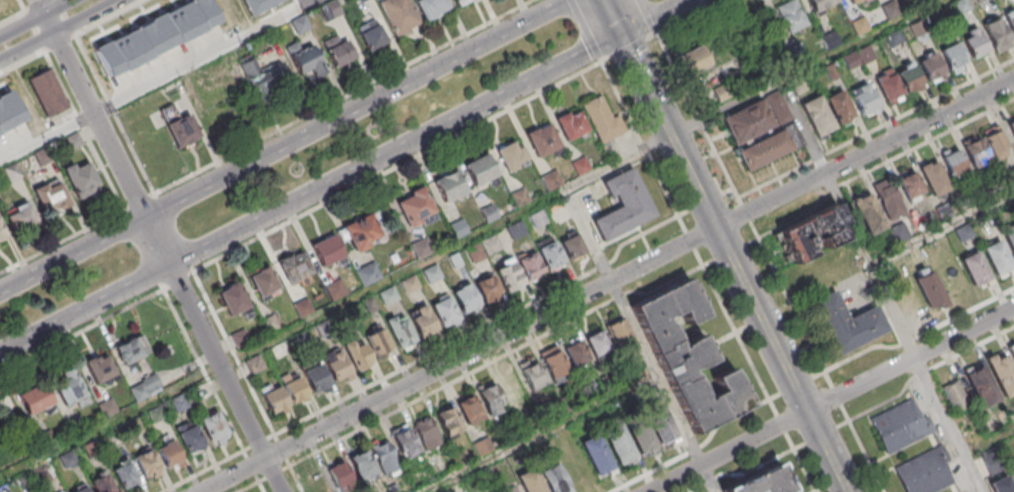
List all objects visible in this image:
building: (853, 1)
building: (918, 1)
building: (979, 1)
building: (459, 2)
building: (820, 4)
road: (21, 5)
road: (60, 5)
building: (259, 5)
building: (961, 5)
road: (25, 11)
building: (411, 13)
road: (65, 14)
building: (791, 15)
road: (12, 16)
road: (648, 16)
road: (690, 16)
road: (612, 17)
road: (36, 18)
road: (29, 20)
building: (1010, 22)
road: (69, 25)
building: (860, 25)
road: (35, 30)
road: (60, 30)
road: (586, 30)
building: (371, 34)
building: (996, 34)
traffic signals: (621, 35)
road: (39, 39)
building: (830, 39)
building: (974, 42)
building: (123, 43)
road: (628, 46)
building: (339, 51)
building: (865, 53)
building: (952, 54)
building: (694, 59)
building: (850, 60)
building: (310, 62)
road: (22, 63)
road: (90, 66)
road: (806, 67)
building: (931, 67)
building: (831, 71)
building: (908, 76)
road: (158, 79)
road: (59, 81)
building: (269, 83)
building: (798, 85)
building: (886, 86)
building: (47, 92)
building: (12, 98)
building: (863, 99)
road: (110, 105)
building: (840, 108)
building: (817, 116)
building: (755, 117)
building: (602, 118)
road: (80, 121)
building: (571, 125)
building: (1011, 126)
building: (180, 127)
building: (1, 138)
building: (75, 141)
building: (543, 141)
building: (995, 142)
road: (284, 145)
road: (643, 145)
building: (769, 147)
building: (974, 151)
road: (134, 154)
building: (512, 155)
building: (43, 156)
building: (953, 162)
building: (583, 169)
road: (104, 170)
building: (481, 171)
road: (345, 176)
building: (933, 177)
building: (82, 179)
building: (552, 183)
building: (450, 185)
building: (910, 186)
road: (577, 188)
building: (51, 197)
building: (522, 199)
building: (888, 200)
building: (415, 207)
building: (628, 211)
building: (867, 213)
building: (491, 215)
building: (21, 218)
building: (540, 222)
road: (943, 229)
building: (460, 230)
road: (173, 231)
building: (363, 231)
building: (519, 232)
building: (898, 233)
building: (2, 234)
building: (813, 236)
building: (1009, 238)
road: (690, 240)
building: (493, 245)
road: (158, 246)
road: (142, 248)
building: (423, 248)
building: (327, 251)
building: (575, 251)
building: (476, 253)
building: (997, 258)
building: (553, 259)
building: (457, 261)
road: (647, 262)
road: (770, 262)
road: (734, 263)
building: (975, 268)
building: (295, 269)
building: (533, 269)
building: (434, 274)
building: (508, 274)
building: (370, 275)
building: (263, 282)
building: (412, 285)
road: (882, 286)
building: (929, 288)
building: (337, 292)
building: (490, 292)
building: (390, 297)
building: (233, 299)
building: (468, 303)
building: (305, 308)
building: (448, 315)
building: (353, 316)
building: (272, 325)
building: (427, 327)
building: (327, 329)
building: (849, 329)
road: (735, 331)
building: (619, 334)
road: (284, 335)
building: (404, 336)
building: (242, 340)
building: (304, 341)
building: (378, 342)
building: (597, 342)
building: (131, 350)
building: (282, 350)
building: (1011, 350)
building: (575, 351)
road: (233, 353)
building: (689, 355)
road: (910, 359)
building: (361, 360)
building: (554, 362)
building: (257, 366)
building: (100, 369)
road: (202, 369)
building: (341, 372)
building: (1001, 372)
building: (532, 374)
building: (318, 382)
road: (663, 386)
building: (981, 386)
building: (512, 387)
building: (69, 388)
building: (297, 395)
building: (955, 396)
building: (491, 399)
building: (34, 400)
building: (277, 404)
building: (469, 409)
building: (447, 420)
building: (660, 423)
road: (781, 423)
building: (214, 427)
building: (0, 429)
building: (903, 429)
building: (425, 432)
road: (545, 434)
building: (189, 437)
building: (642, 437)
building: (404, 441)
road: (990, 443)
building: (620, 446)
road: (281, 449)
road: (728, 451)
building: (169, 454)
building: (597, 456)
building: (385, 457)
road: (800, 463)
building: (147, 464)
road: (251, 465)
building: (363, 466)
road: (240, 470)
building: (1012, 472)
building: (928, 473)
building: (125, 475)
road: (293, 475)
building: (340, 476)
building: (556, 479)
building: (766, 481)
building: (316, 482)
road: (259, 483)
building: (533, 484)
building: (1001, 484)
building: (97, 485)
building: (510, 488)

